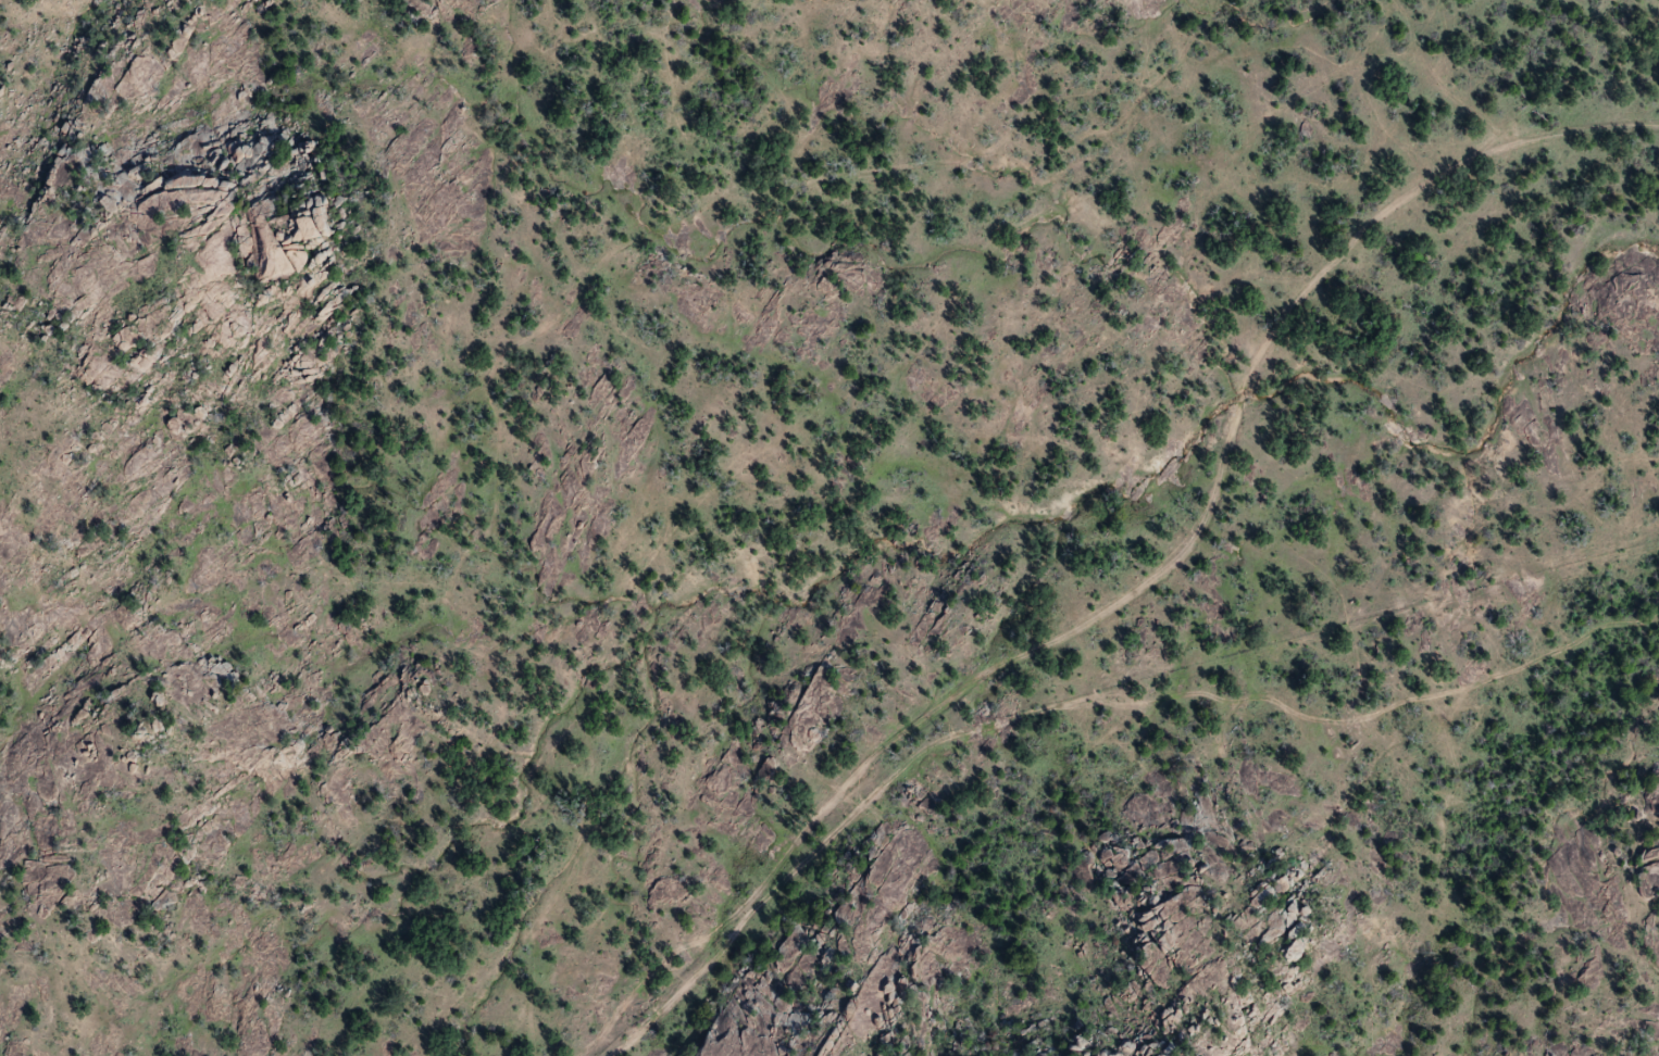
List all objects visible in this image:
building: (309, 225)

